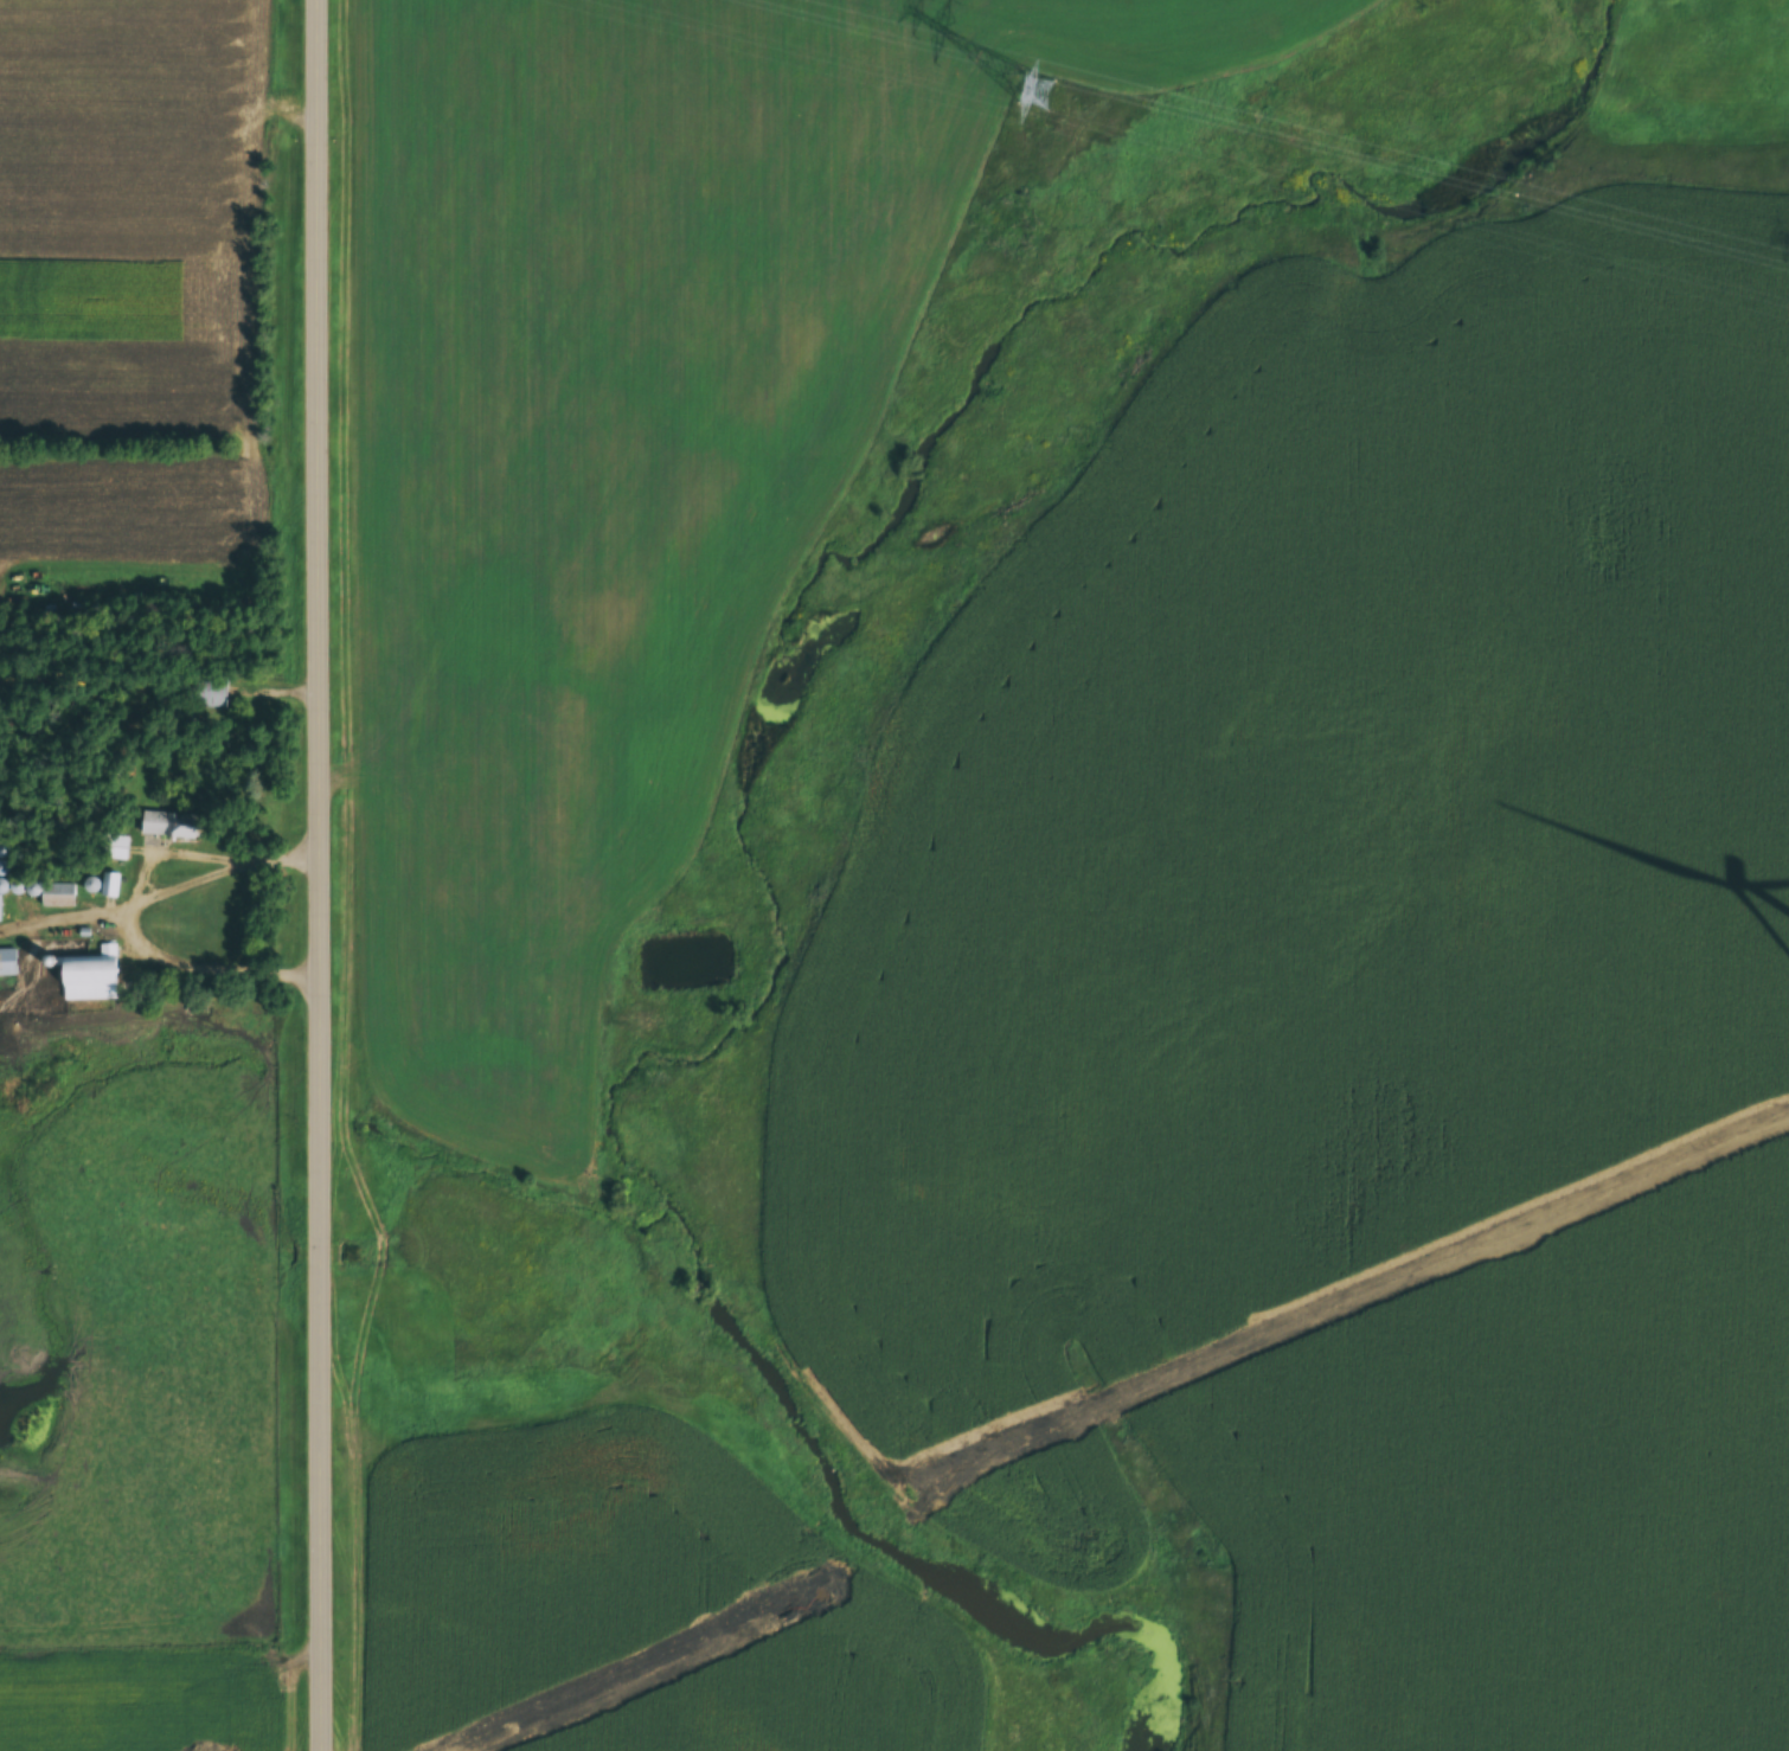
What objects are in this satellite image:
power tower: (1027, 88)
building: (165, 828)
building: (114, 849)
road: (321, 874)
building: (108, 886)
building: (21, 889)
building: (6, 964)
building: (85, 981)

